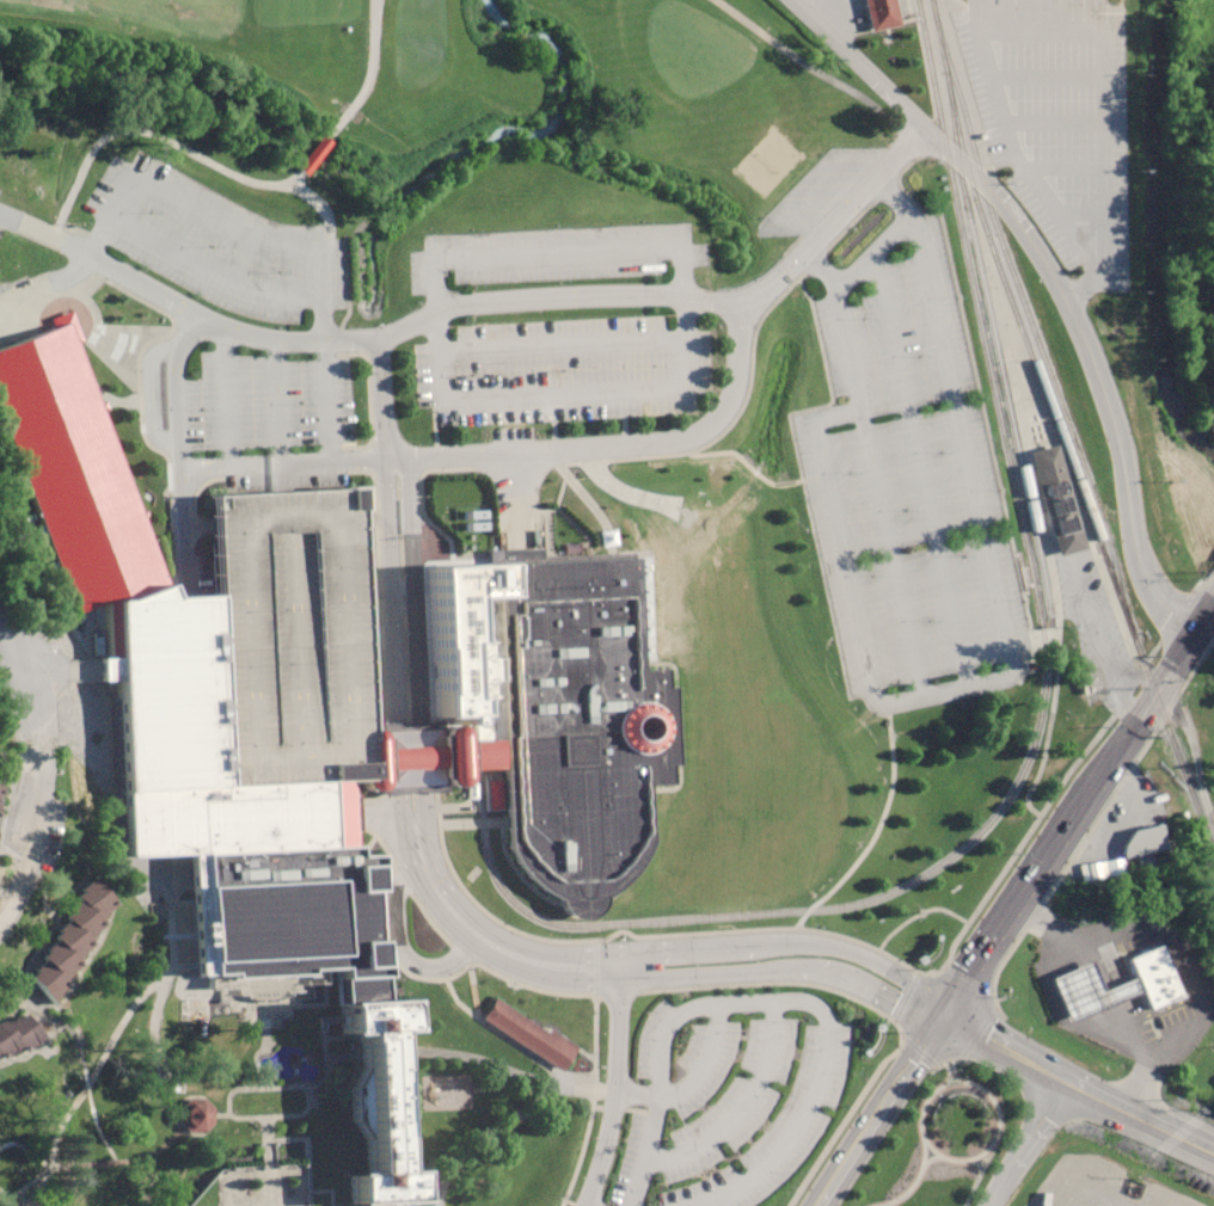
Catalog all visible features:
railway: (902, 11)
building: (881, 13)
park: (180, 63)
road: (814, 70)
road: (366, 81)
road: (51, 127)
road: (153, 133)
road: (309, 156)
park: (766, 161)
road: (895, 199)
road: (839, 220)
road: (223, 227)
river: (1147, 236)
road: (873, 252)
railway: (1122, 261)
road: (822, 271)
road: (210, 275)
road: (1057, 284)
railway: (1018, 287)
road: (41, 297)
road: (931, 303)
railway: (988, 310)
building: (90, 322)
road: (363, 337)
road: (685, 339)
road: (563, 351)
railway: (1032, 357)
road: (174, 388)
road: (226, 396)
road: (381, 398)
road: (276, 400)
road: (149, 401)
road: (326, 401)
road: (881, 402)
road: (509, 451)
road: (922, 467)
building: (70, 472)
road: (392, 473)
parking lot: (907, 482)
road: (879, 490)
road: (1006, 496)
road: (515, 497)
building: (1057, 498)
road: (1040, 499)
road: (182, 529)
building: (289, 635)
road: (401, 651)
road: (17, 676)
road: (944, 688)
road: (1154, 694)
railway: (1160, 712)
building: (572, 714)
building: (195, 744)
road: (1194, 752)
building: (0, 767)
road: (382, 817)
road: (869, 839)
road: (32, 841)
building: (1144, 841)
road: (1019, 896)
building: (281, 912)
road: (478, 936)
building: (69, 937)
road: (1181, 952)
road: (398, 954)
road: (804, 954)
road: (705, 959)
building: (1157, 976)
road: (882, 978)
road: (670, 987)
gas station: (1091, 989)
road: (774, 997)
road: (1098, 1001)
traffic signals: (944, 1010)
building: (531, 1033)
building: (18, 1035)
road: (694, 1079)
road: (1078, 1081)
road: (950, 1082)
road: (613, 1087)
parking lot: (728, 1096)
road: (589, 1102)
road: (742, 1103)
building: (391, 1105)
road: (879, 1107)
building: (194, 1115)
road: (1031, 1140)
road: (930, 1157)
road: (951, 1158)
parking lot: (599, 1201)

